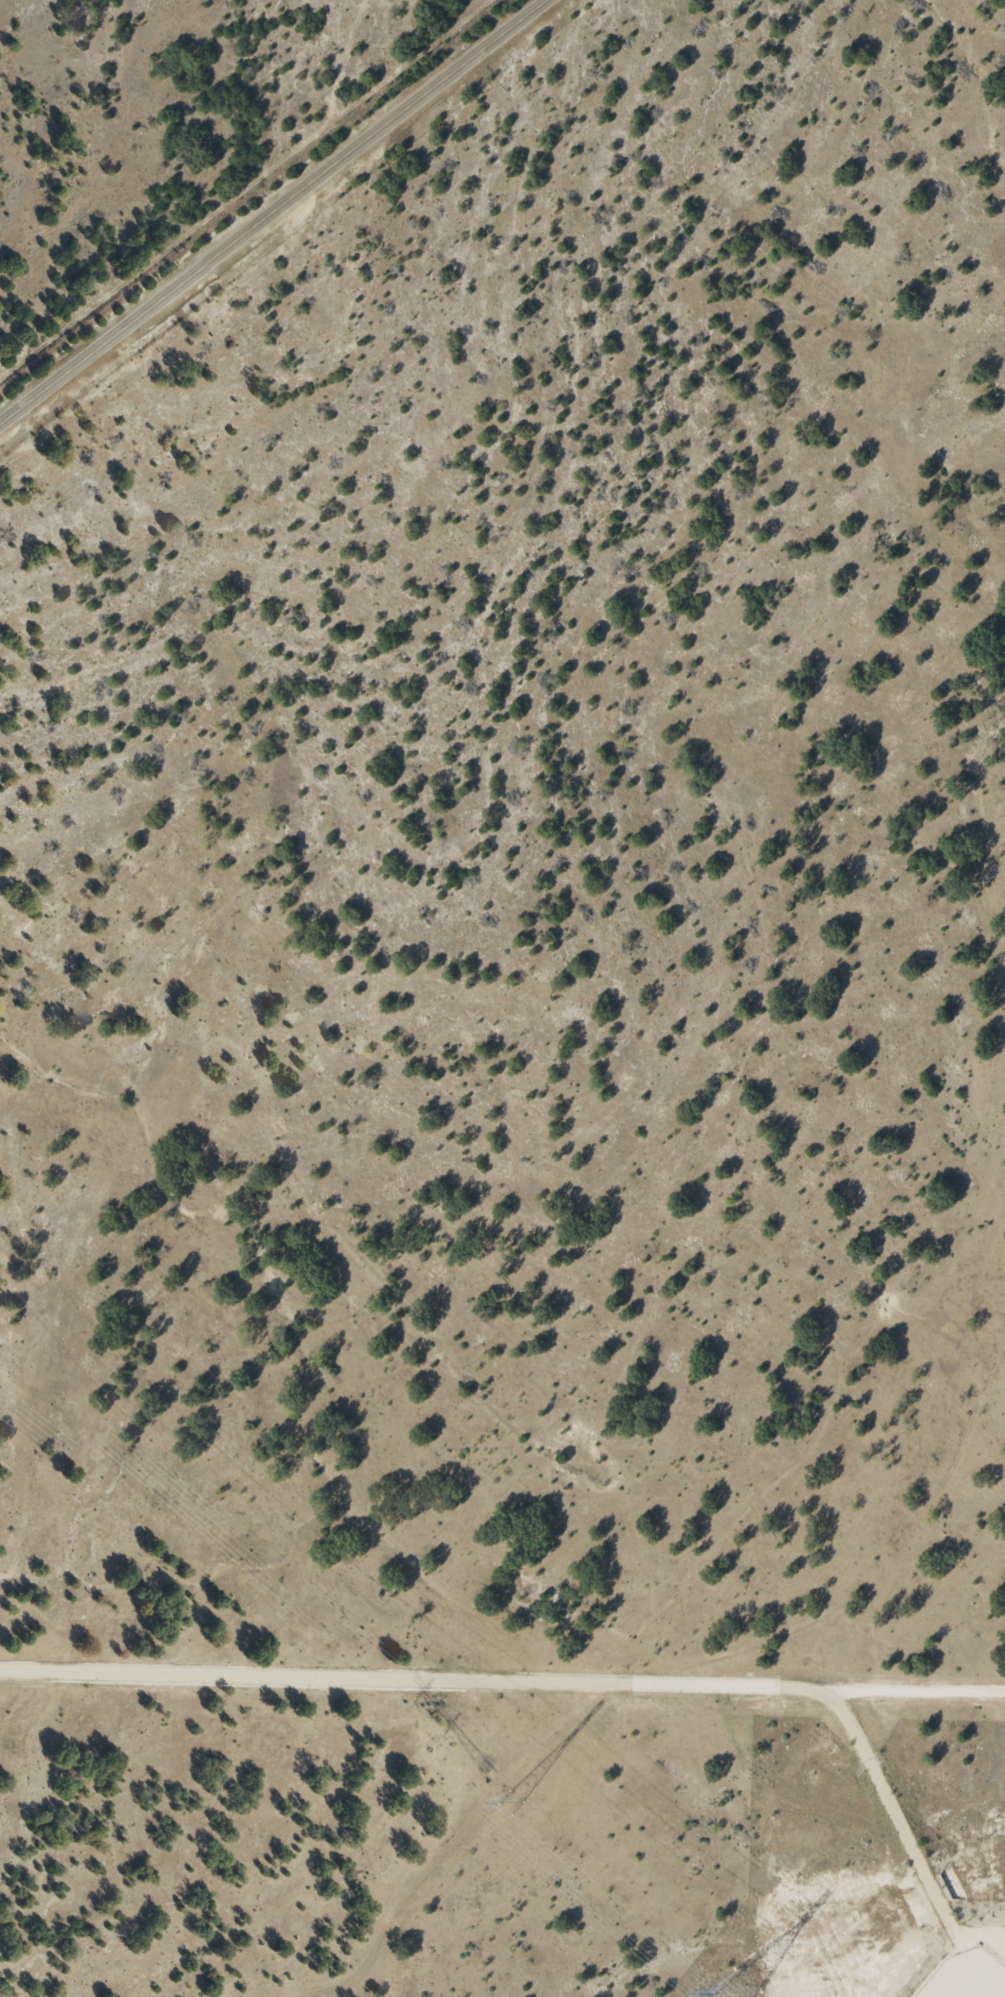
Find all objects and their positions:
road: (276, 213)
road: (502, 1684)
power tower: (507, 1800)
road: (899, 1823)
power substation: (966, 1976)
power tower: (736, 1994)

